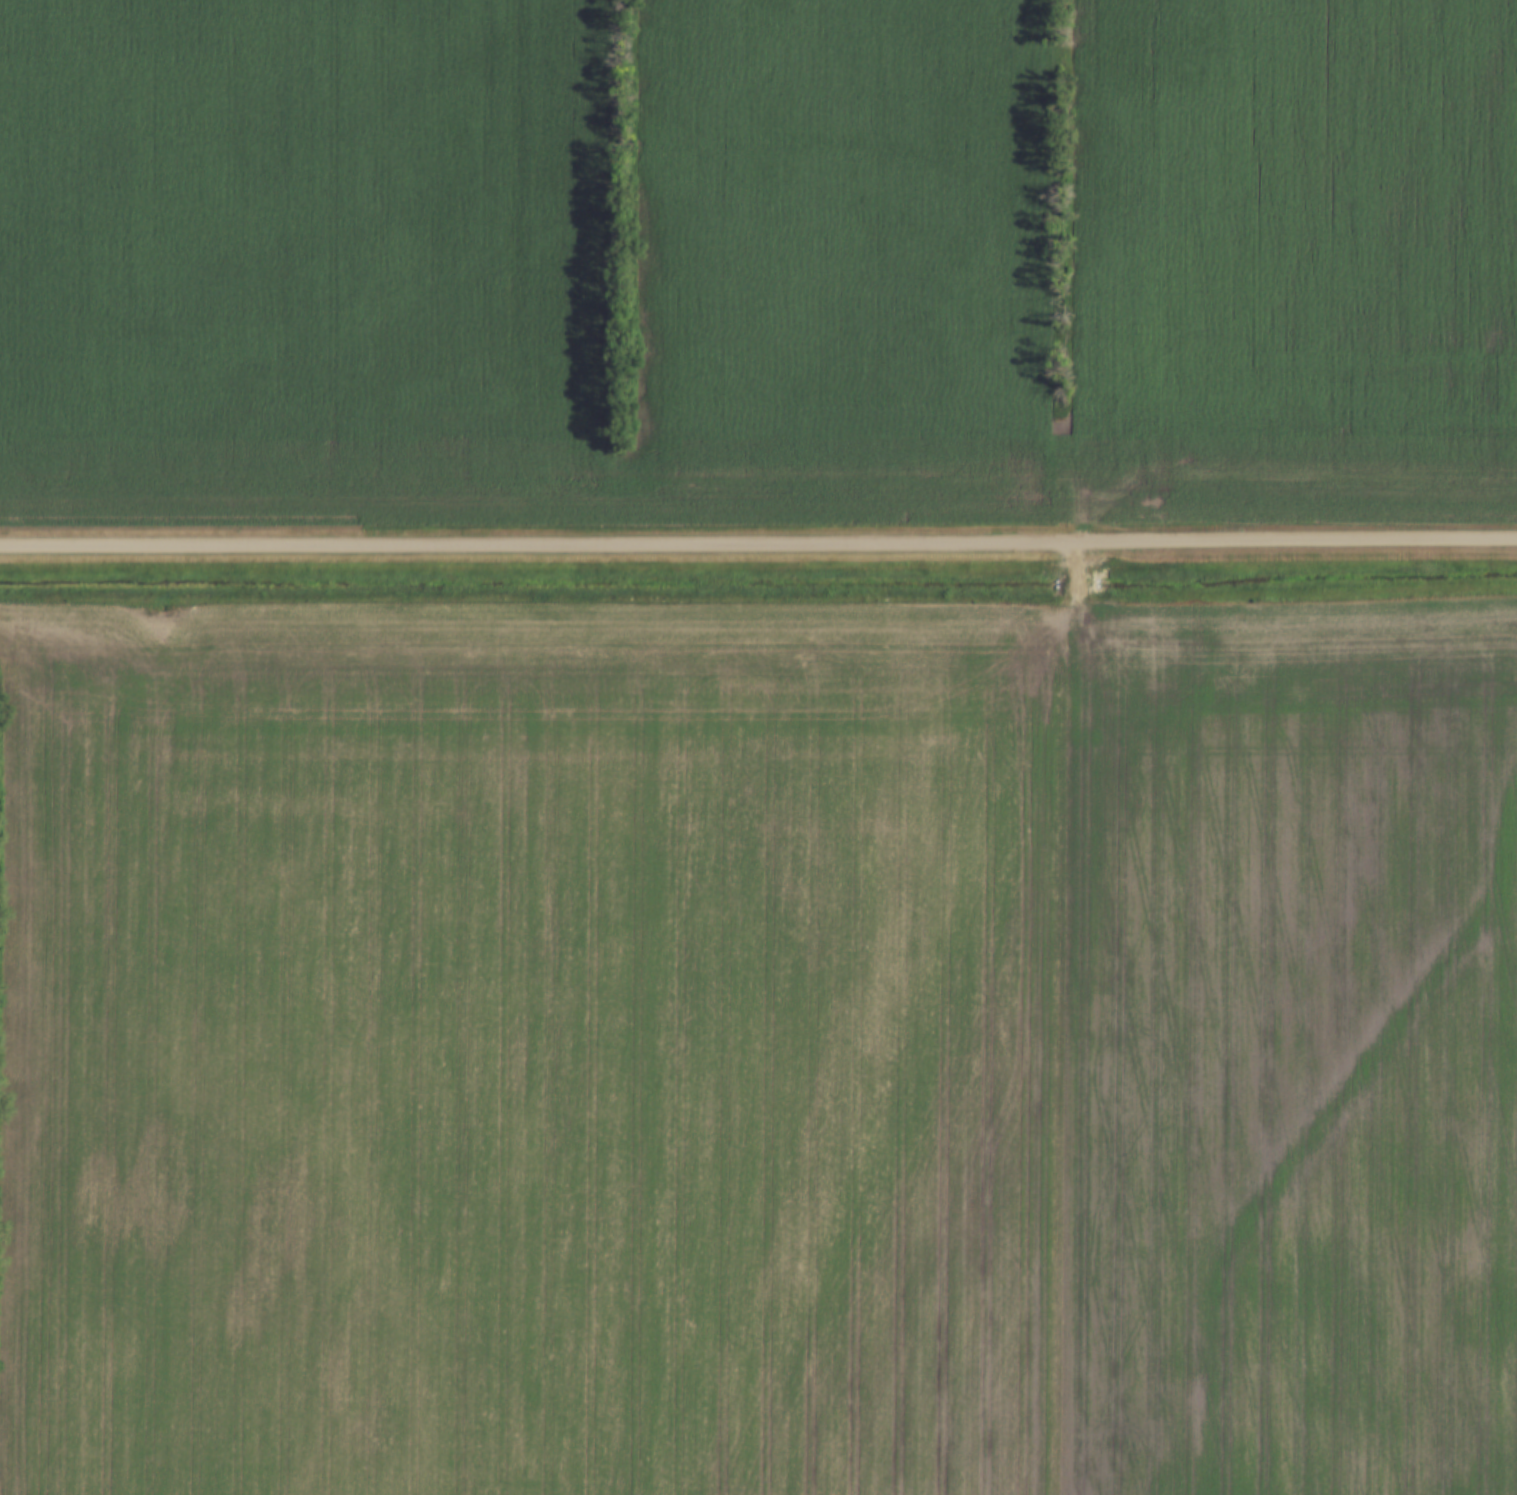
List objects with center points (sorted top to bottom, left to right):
road: (758, 549)

